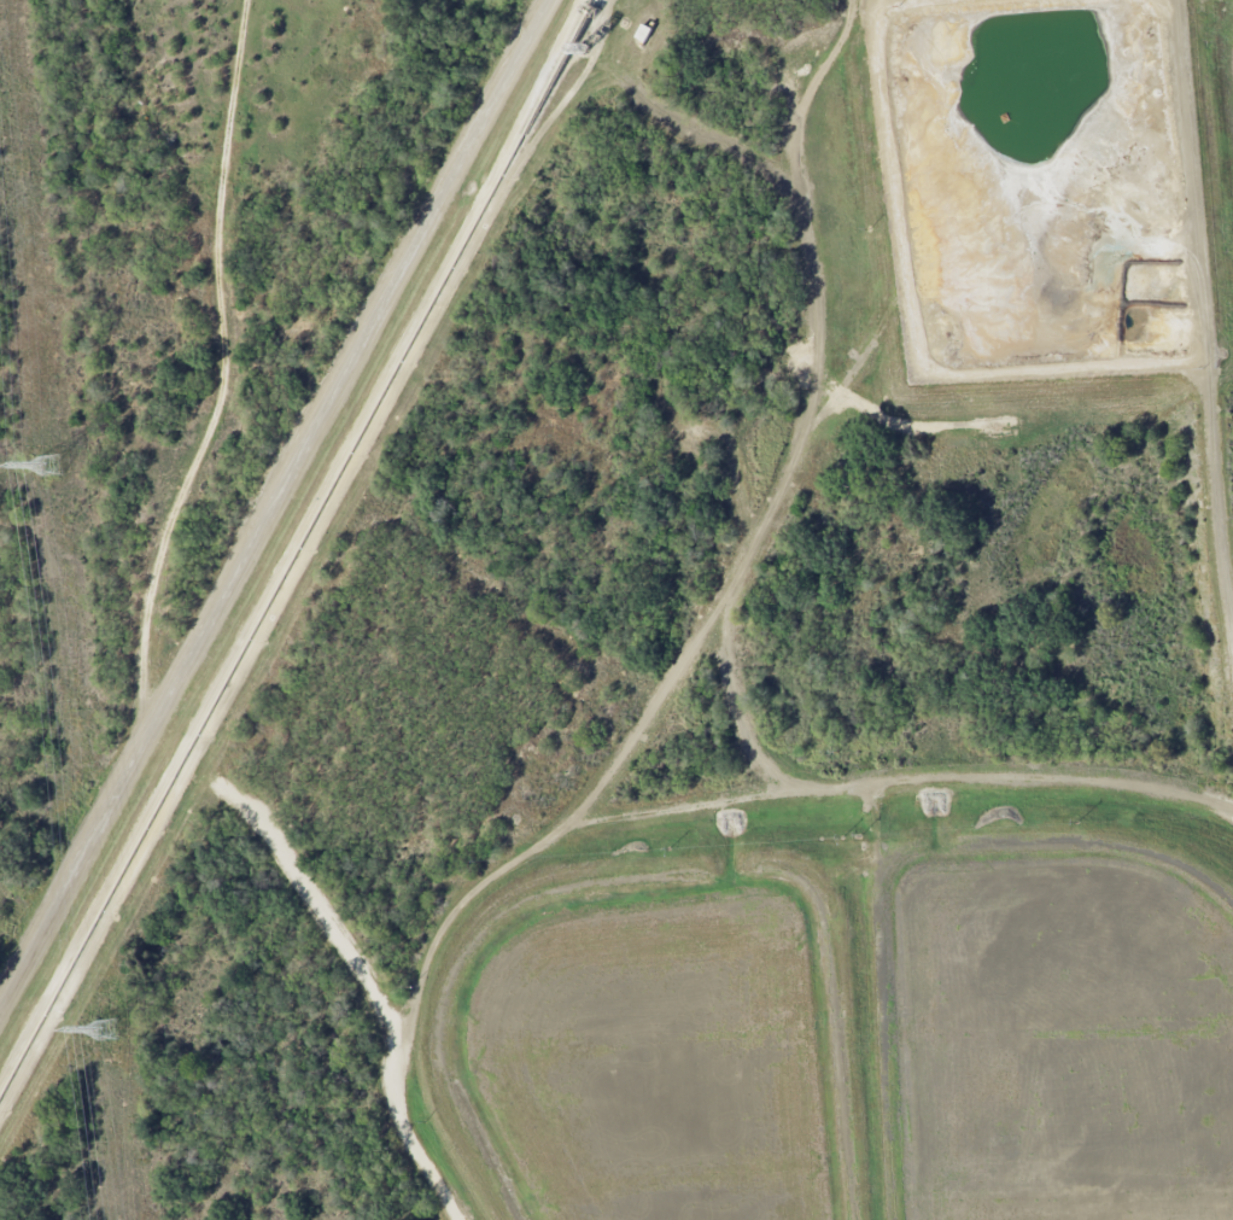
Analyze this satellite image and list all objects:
road: (222, 385)
power tower: (53, 467)
road: (271, 504)
road: (1228, 567)
road: (352, 946)
power tower: (110, 1031)

